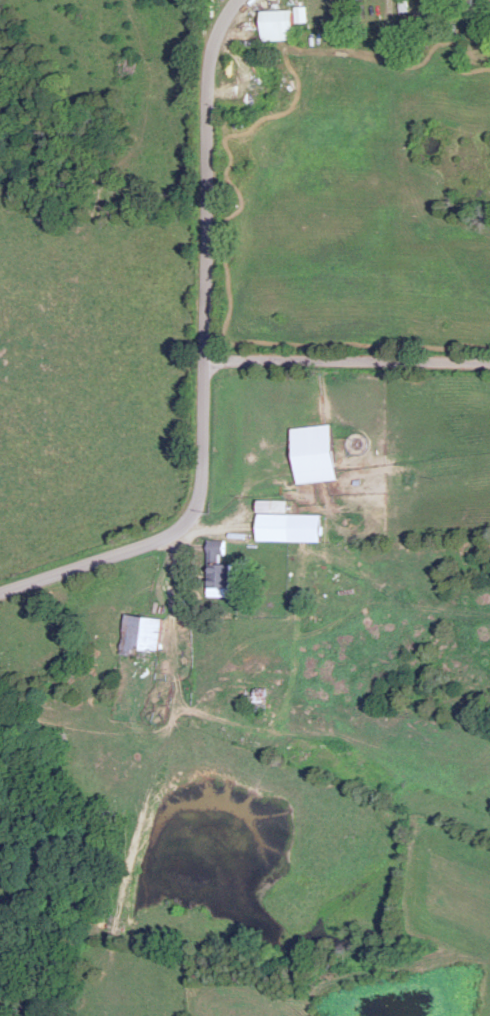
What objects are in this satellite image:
building: (476, 6)
building: (281, 24)
road: (214, 358)
road: (354, 384)
building: (316, 452)
building: (292, 525)
building: (221, 564)
building: (144, 634)
building: (256, 698)

